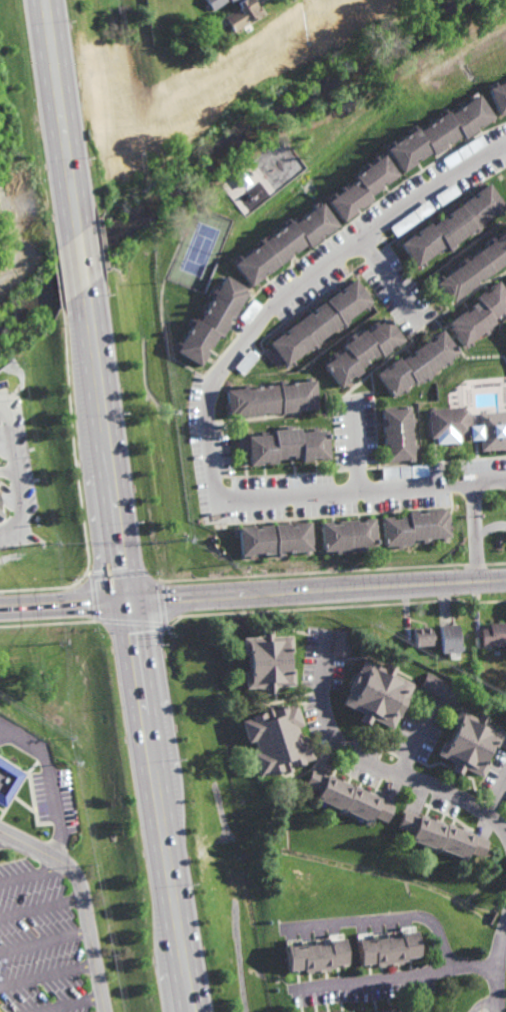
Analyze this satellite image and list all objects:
building: (232, 1)
building: (214, 3)
building: (241, 14)
building: (498, 97)
road: (71, 113)
road: (48, 120)
building: (440, 134)
building: (466, 152)
building: (364, 188)
building: (449, 194)
building: (413, 218)
building: (367, 220)
building: (454, 227)
building: (286, 244)
park: (199, 250)
road: (91, 251)
road: (69, 269)
building: (476, 271)
road: (390, 278)
building: (251, 313)
building: (481, 316)
building: (212, 323)
building: (321, 324)
building: (366, 351)
building: (245, 359)
building: (417, 363)
building: (272, 394)
road: (209, 395)
building: (451, 421)
building: (493, 428)
building: (400, 430)
road: (117, 439)
building: (286, 441)
road: (8, 442)
road: (355, 446)
road: (93, 448)
building: (406, 470)
road: (18, 500)
building: (0, 519)
building: (417, 525)
building: (349, 532)
road: (475, 532)
building: (276, 537)
road: (323, 590)
road: (127, 601)
traffic signals: (141, 601)
traffic signals: (113, 602)
road: (56, 605)
building: (495, 633)
building: (423, 635)
building: (449, 637)
building: (342, 643)
building: (268, 660)
building: (441, 687)
building: (378, 693)
building: (496, 694)
building: (276, 739)
building: (469, 742)
road: (414, 743)
road: (375, 768)
road: (48, 780)
building: (8, 781)
road: (495, 793)
building: (348, 797)
road: (171, 806)
road: (145, 807)
building: (442, 835)
road: (32, 874)
road: (84, 899)
road: (42, 906)
road: (387, 917)
road: (45, 940)
building: (389, 950)
building: (317, 958)
road: (495, 965)
road: (49, 975)
road: (393, 976)
road: (480, 1003)
road: (71, 1004)
building: (416, 1009)
building: (392, 1011)

